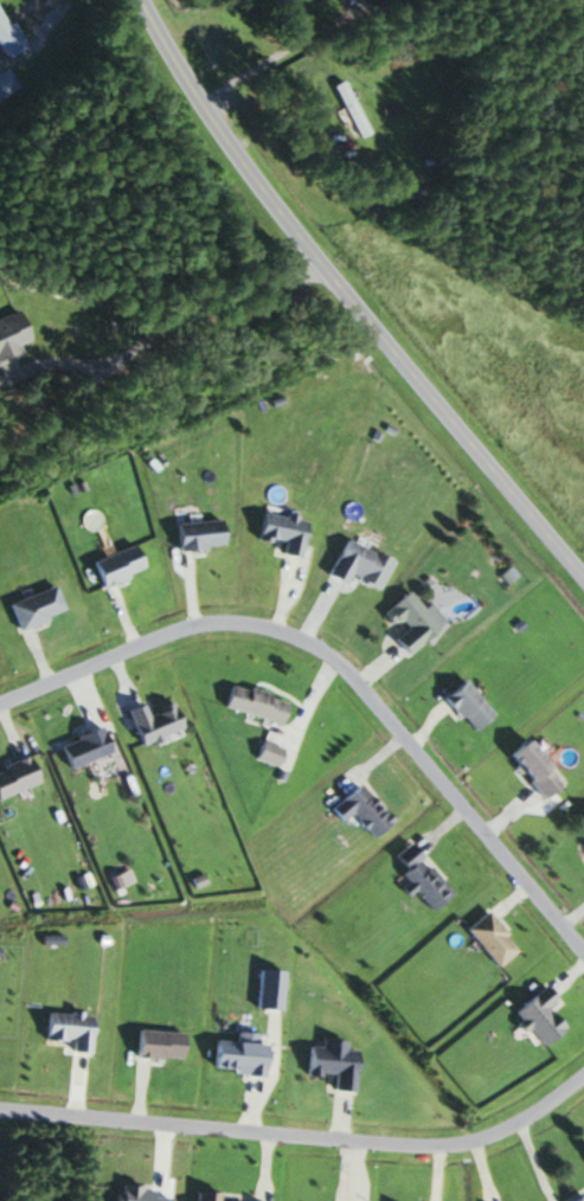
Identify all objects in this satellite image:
road: (24, 7)
building: (8, 36)
road: (276, 54)
building: (7, 83)
building: (347, 109)
road: (207, 297)
road: (347, 298)
road: (52, 360)
road: (56, 415)
building: (353, 565)
building: (406, 621)
road: (345, 669)
building: (249, 704)
road: (304, 709)
building: (264, 753)
building: (527, 768)
building: (355, 810)
building: (579, 826)
building: (413, 875)
road: (301, 1135)
building: (200, 1196)
building: (573, 1197)
building: (583, 1200)

